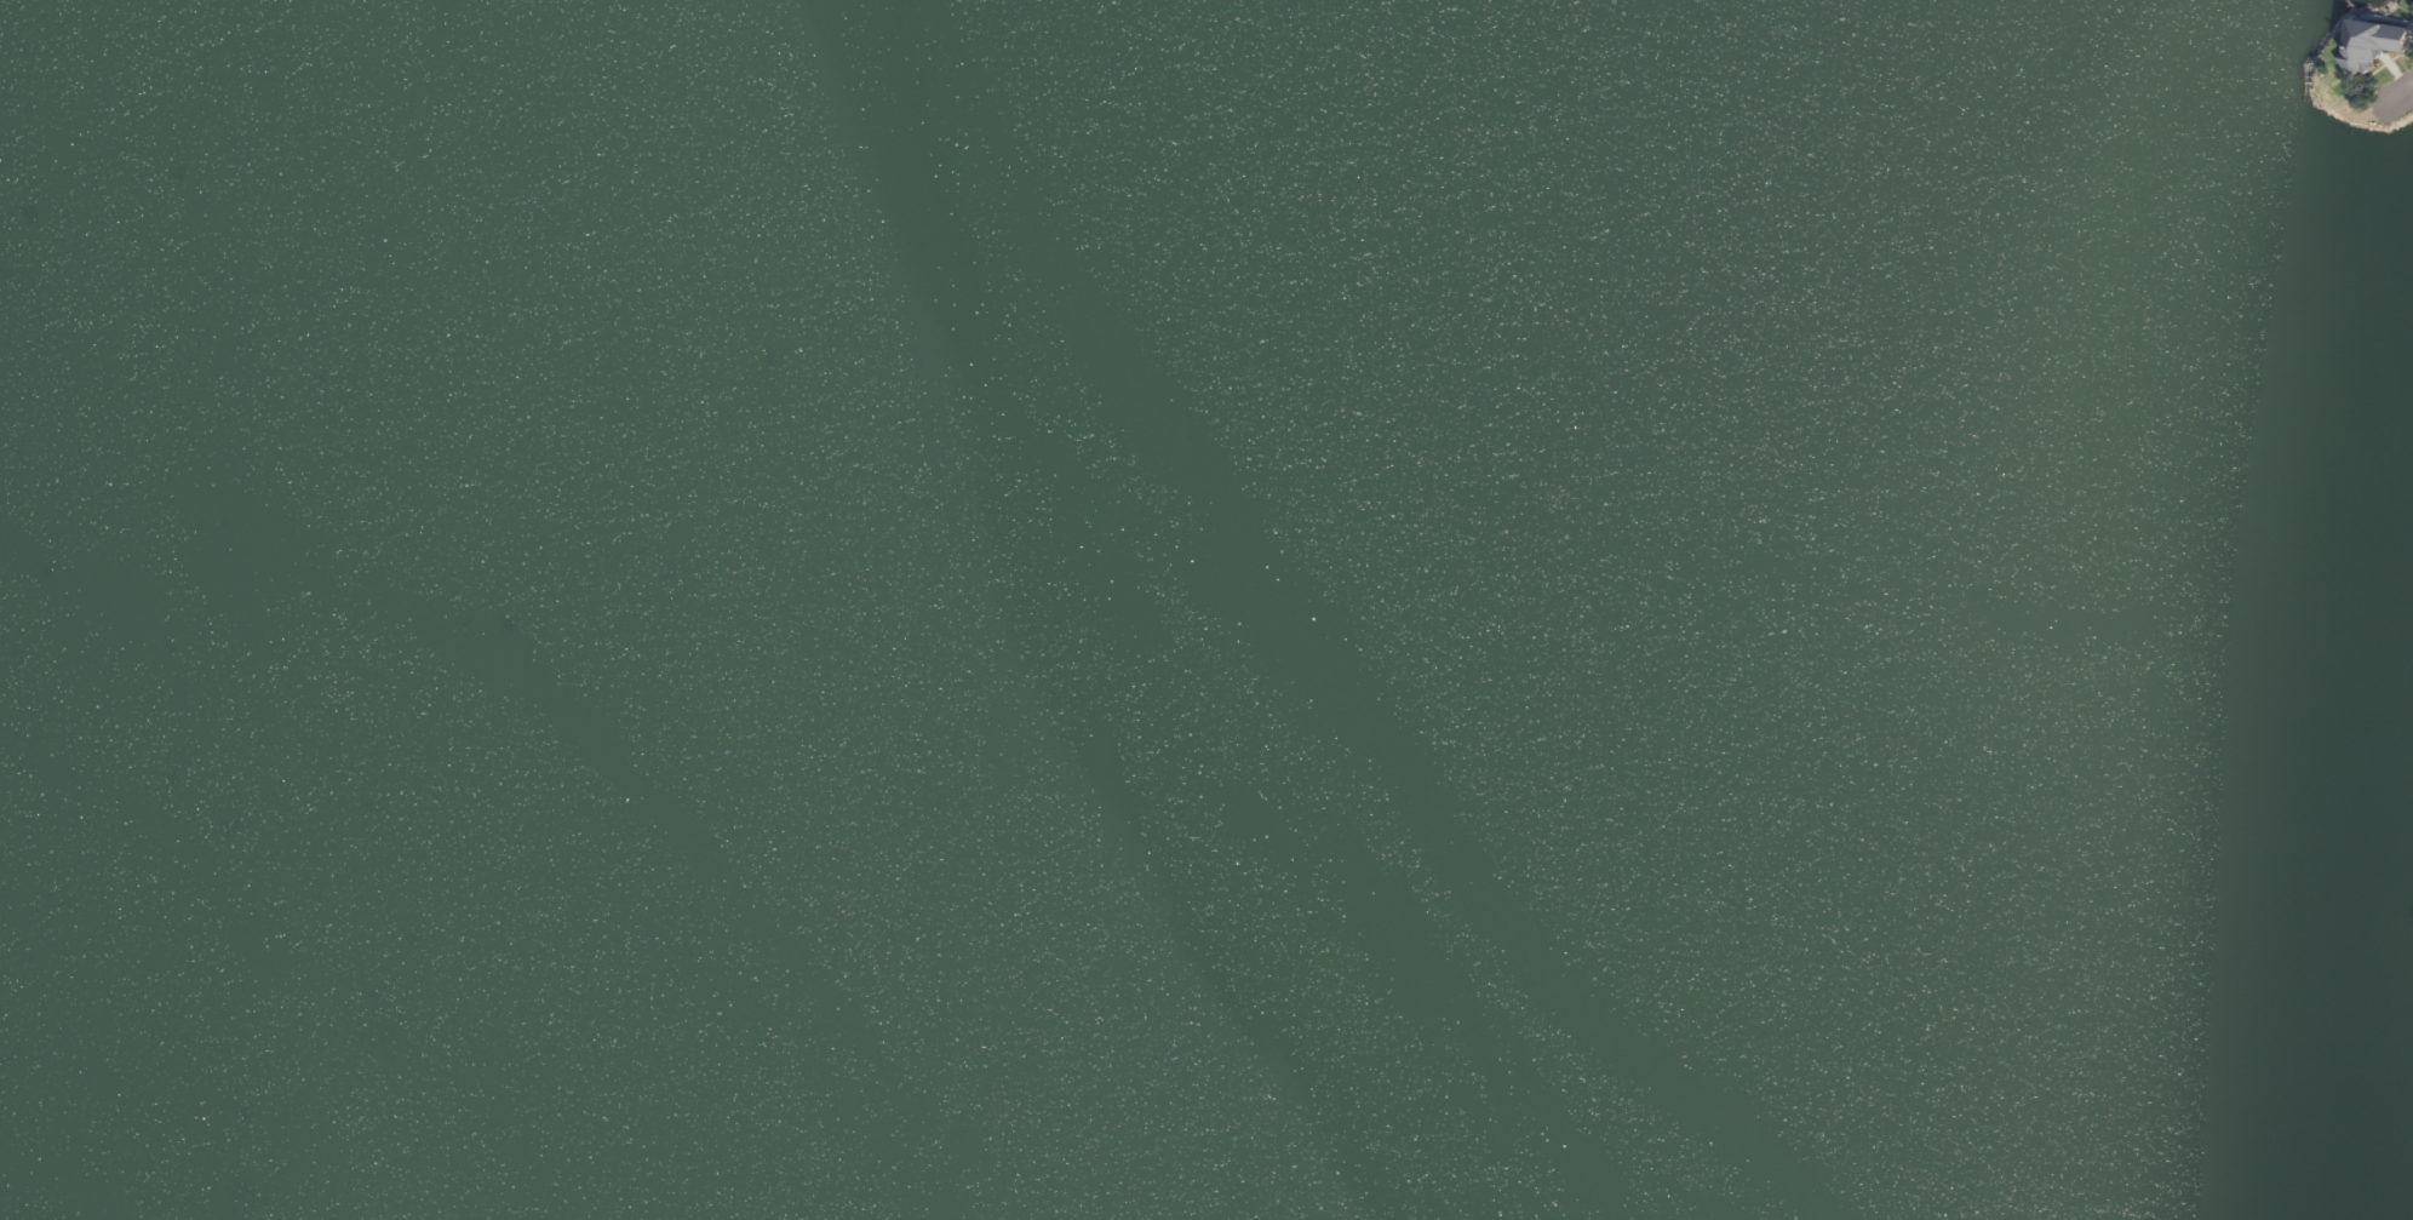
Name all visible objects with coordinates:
building: (2375, 41)

